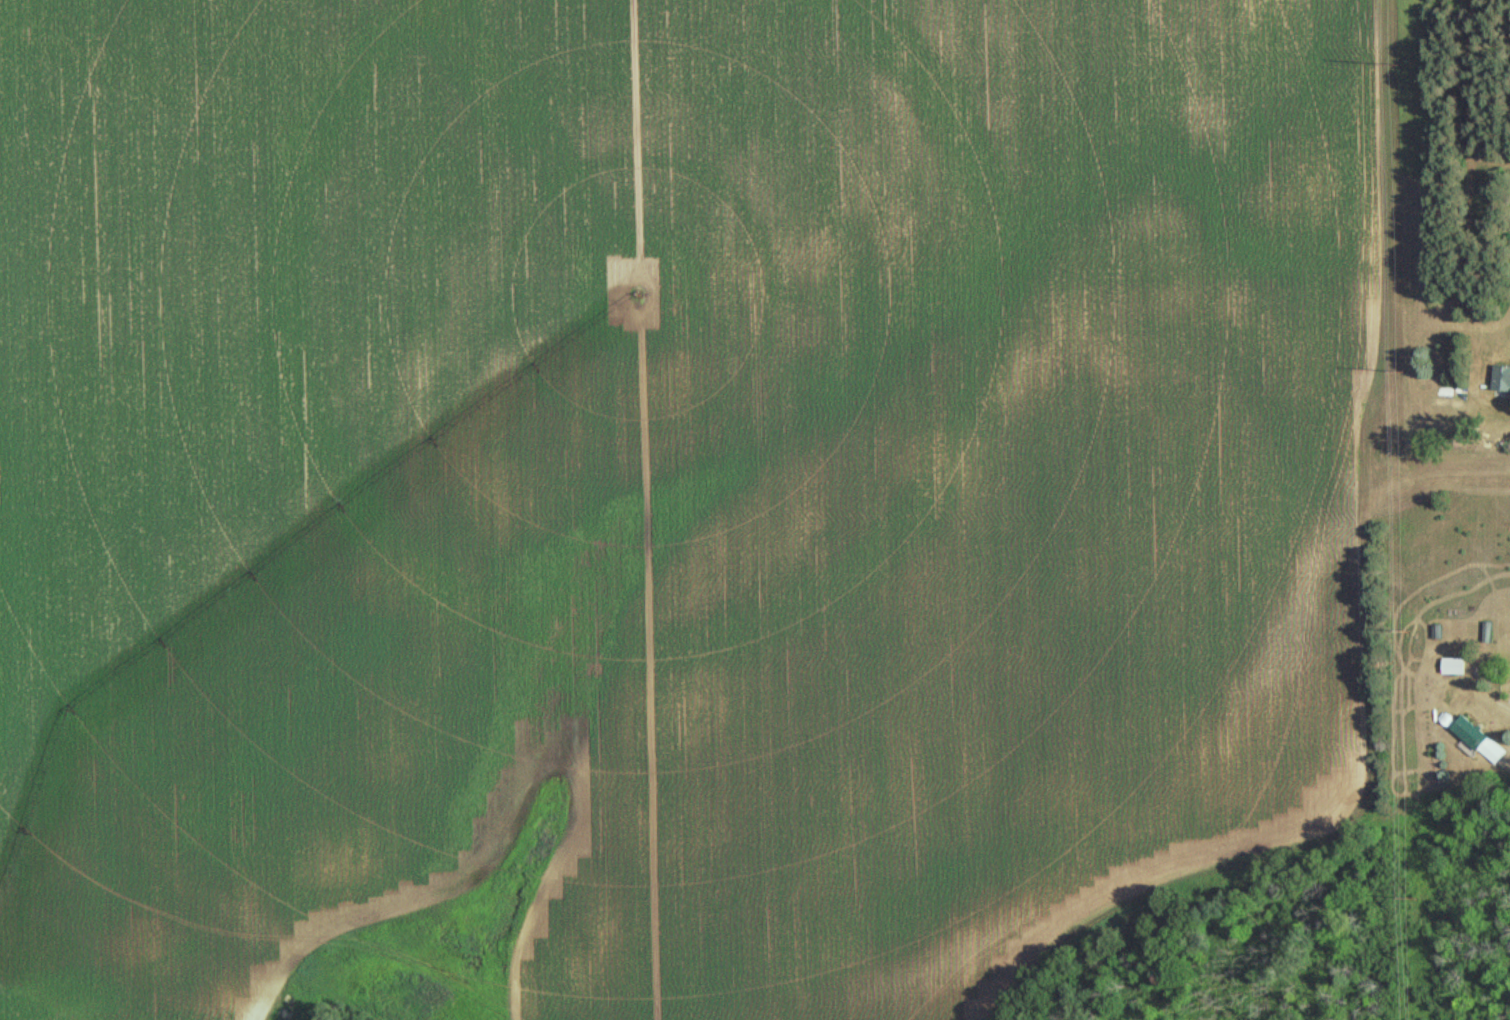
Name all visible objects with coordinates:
building: (1503, 377)
building: (1489, 631)
building: (1455, 666)
building: (1479, 740)

